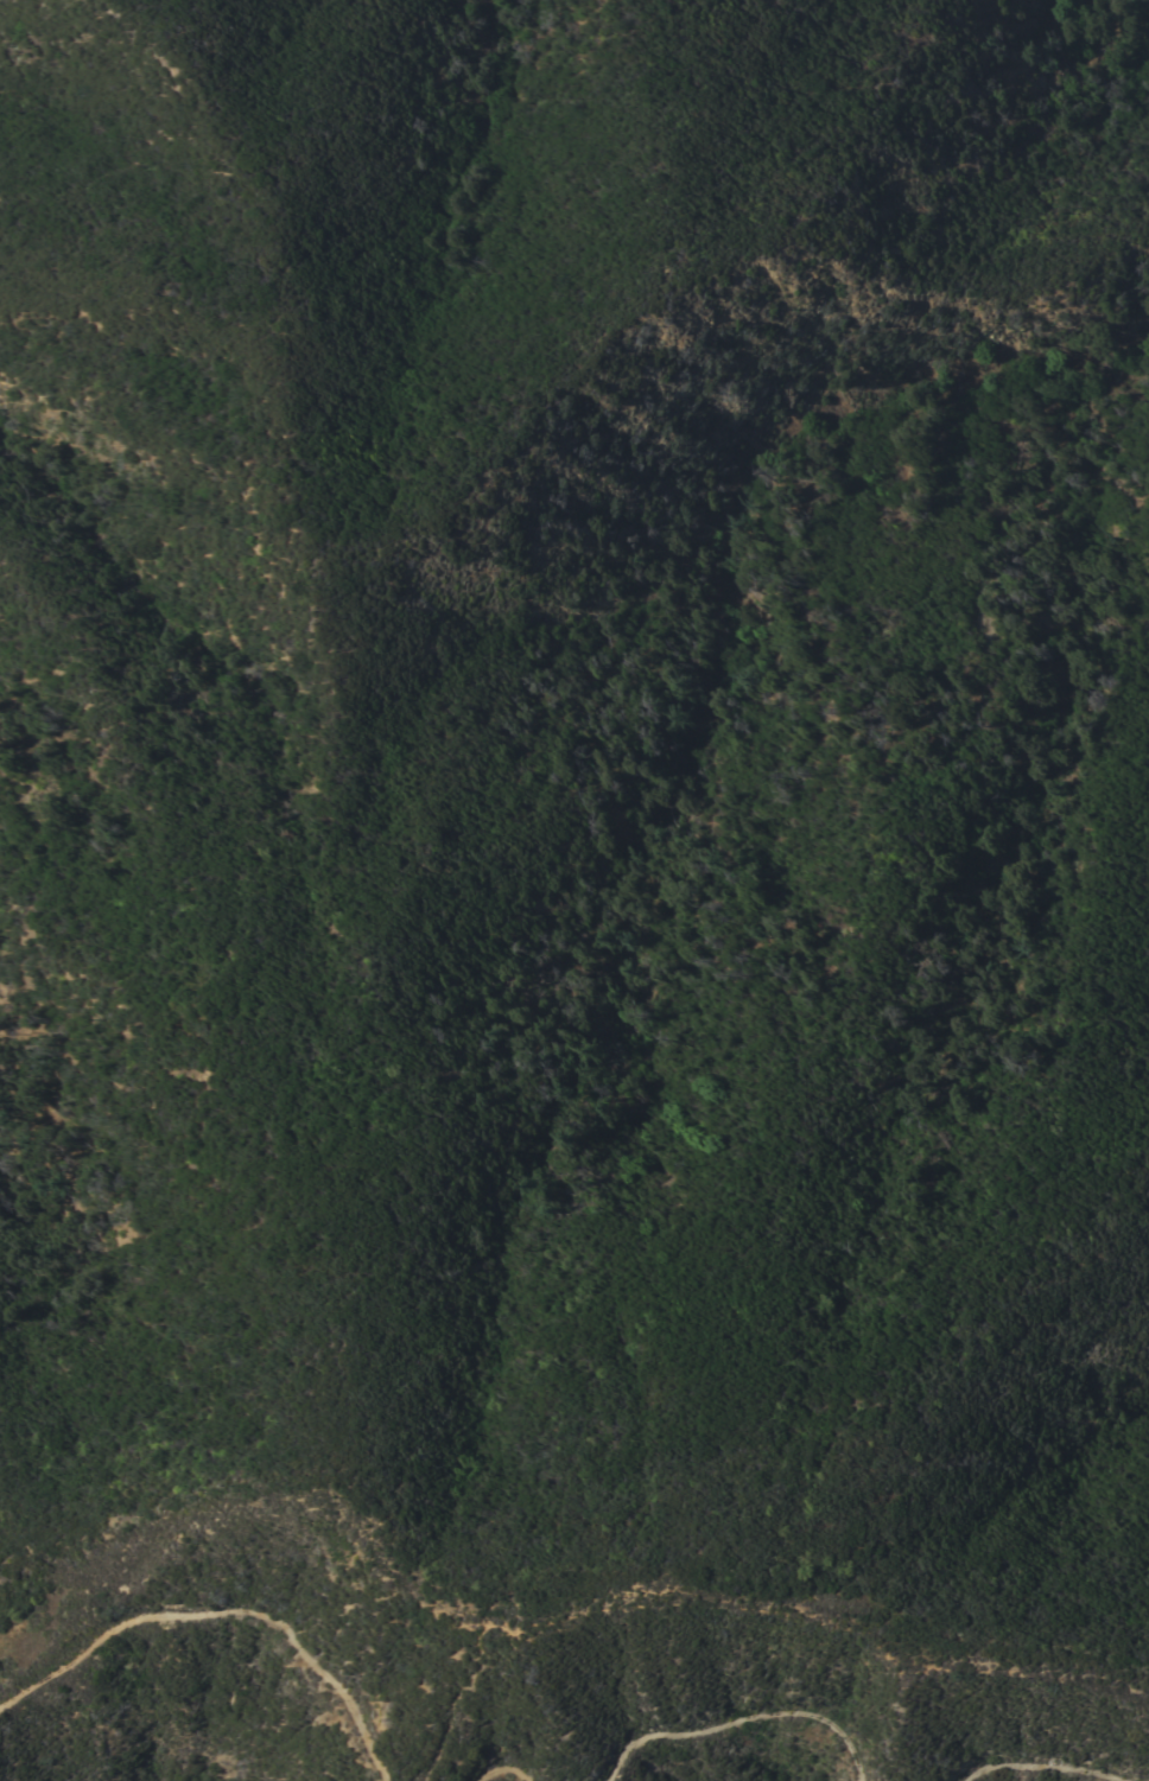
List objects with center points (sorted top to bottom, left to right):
road: (224, 1611)
road: (750, 1720)
road: (509, 1766)
road: (1058, 1767)

